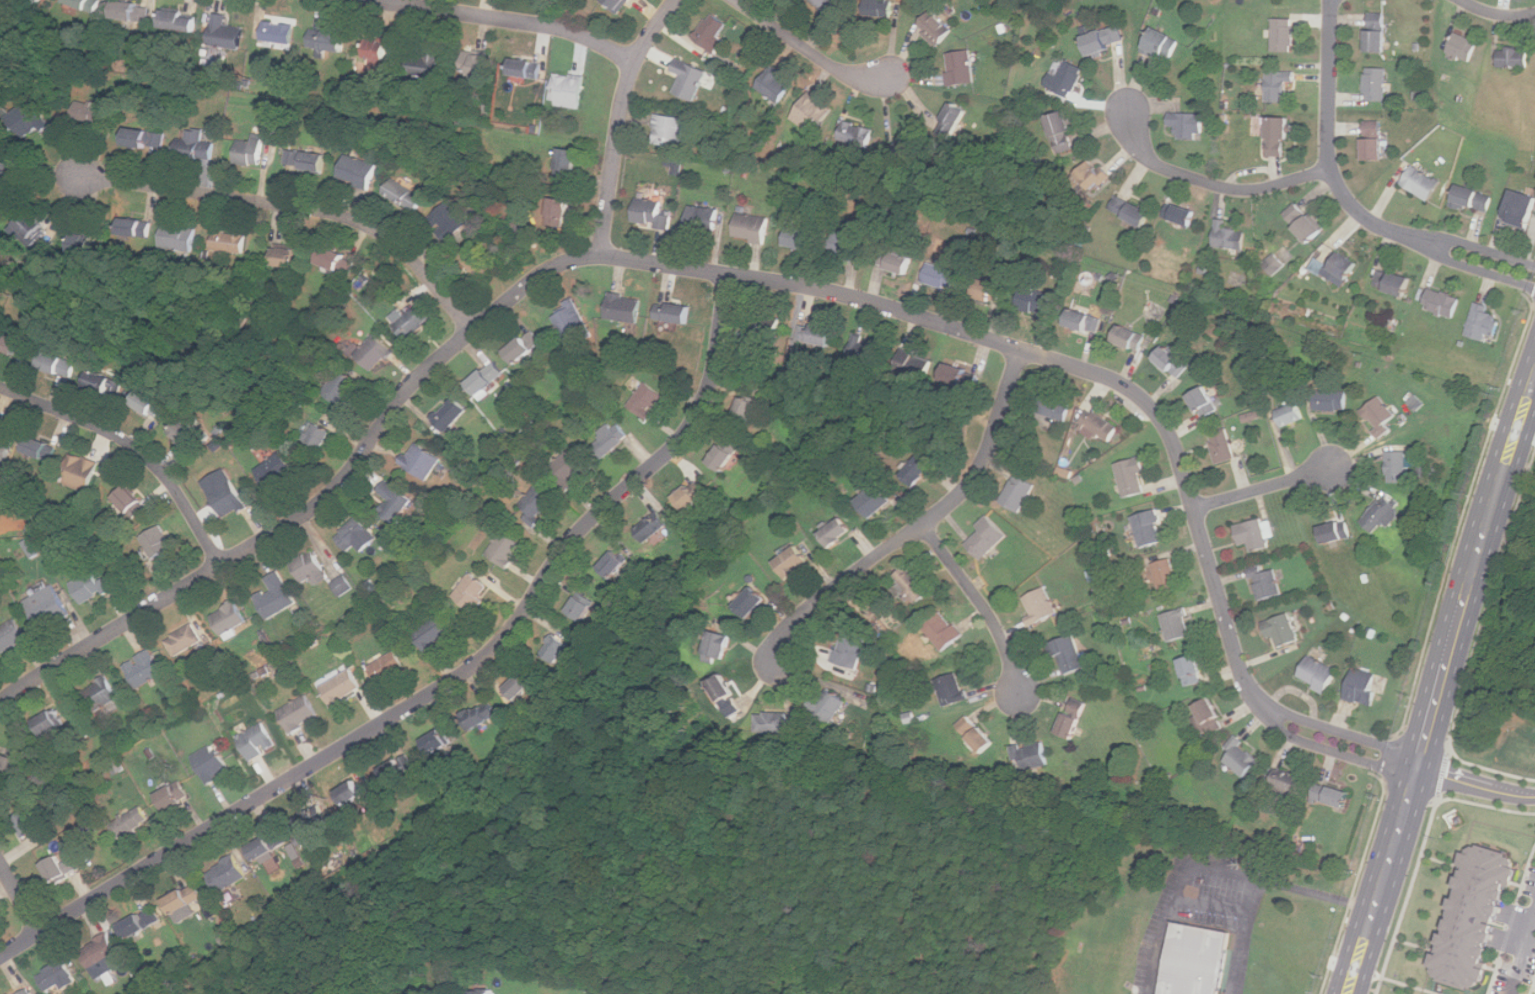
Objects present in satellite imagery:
building: (40, 0)
building: (617, 4)
building: (89, 5)
building: (831, 7)
building: (880, 9)
building: (133, 12)
road: (1496, 14)
road: (507, 19)
building: (180, 22)
building: (938, 28)
building: (712, 31)
building: (279, 32)
building: (227, 33)
building: (1379, 35)
building: (1284, 36)
building: (327, 41)
building: (1106, 41)
building: (1163, 45)
building: (1464, 48)
road: (807, 50)
building: (1515, 58)
building: (378, 62)
building: (425, 64)
building: (477, 64)
building: (524, 69)
building: (961, 69)
building: (1067, 79)
building: (690, 80)
building: (1278, 85)
building: (1377, 85)
building: (776, 86)
building: (572, 92)
building: (814, 113)
building: (94, 114)
road: (617, 120)
building: (30, 121)
building: (954, 121)
building: (1189, 125)
building: (670, 131)
building: (1063, 132)
building: (858, 134)
building: (1281, 137)
building: (147, 139)
building: (1376, 141)
building: (196, 146)
building: (908, 150)
building: (250, 151)
building: (306, 161)
building: (675, 165)
building: (568, 166)
building: (359, 171)
building: (1095, 175)
building: (10, 179)
building: (1423, 183)
road: (1211, 184)
building: (405, 195)
road: (1348, 199)
building: (1474, 199)
road: (298, 207)
building: (1521, 210)
building: (560, 212)
building: (1133, 212)
building: (652, 213)
building: (1181, 215)
building: (703, 221)
building: (449, 222)
building: (1305, 223)
building: (28, 228)
building: (752, 228)
building: (138, 229)
building: (180, 237)
building: (1229, 237)
building: (800, 238)
building: (232, 241)
building: (84, 243)
building: (850, 245)
building: (286, 257)
building: (895, 260)
building: (338, 261)
building: (477, 261)
building: (1275, 264)
building: (1338, 268)
building: (943, 276)
road: (749, 277)
building: (1395, 282)
building: (990, 291)
building: (1035, 303)
building: (1443, 303)
building: (624, 308)
building: (676, 313)
building: (572, 320)
building: (414, 322)
building: (1085, 322)
building: (1484, 322)
building: (769, 335)
building: (819, 335)
building: (1126, 336)
building: (13, 345)
building: (525, 347)
building: (866, 350)
building: (374, 353)
building: (1172, 363)
building: (60, 364)
building: (912, 365)
building: (961, 377)
building: (487, 378)
building: (105, 384)
building: (343, 387)
building: (648, 401)
building: (1332, 401)
building: (1206, 402)
building: (149, 404)
building: (1054, 407)
building: (748, 410)
building: (451, 414)
building: (1292, 415)
building: (1381, 415)
building: (1101, 425)
building: (1, 427)
building: (186, 433)
building: (316, 440)
building: (611, 440)
road: (133, 447)
building: (1223, 447)
building: (5, 448)
building: (41, 449)
building: (726, 456)
building: (422, 461)
building: (1398, 467)
building: (570, 469)
building: (276, 470)
building: (918, 471)
building: (82, 473)
building: (1133, 477)
road: (1261, 487)
building: (226, 492)
building: (1019, 493)
building: (693, 496)
building: (875, 501)
building: (131, 502)
building: (395, 502)
building: (538, 505)
building: (1382, 515)
road: (922, 522)
building: (653, 526)
building: (1150, 528)
building: (836, 532)
building: (1337, 533)
building: (1257, 534)
building: (356, 535)
building: (988, 537)
building: (158, 543)
building: (506, 550)
building: (793, 562)
building: (614, 564)
building: (310, 568)
building: (1167, 575)
building: (1266, 583)
building: (342, 585)
building: (912, 585)
building: (91, 587)
building: (474, 593)
building: (277, 596)
road: (1489, 601)
building: (750, 602)
road: (979, 603)
building: (47, 605)
building: (1041, 606)
building: (582, 608)
building: (230, 618)
building: (1178, 625)
building: (434, 631)
building: (944, 631)
building: (1283, 631)
building: (11, 636)
building: (185, 640)
building: (717, 646)
building: (556, 648)
building: (850, 649)
building: (1069, 654)
building: (388, 667)
building: (145, 669)
building: (1188, 669)
building: (1319, 674)
building: (523, 684)
road: (442, 685)
road: (1437, 685)
building: (724, 687)
building: (1365, 687)
building: (343, 688)
building: (952, 689)
building: (102, 695)
building: (827, 706)
building: (299, 714)
building: (482, 715)
building: (1205, 716)
building: (1069, 717)
building: (771, 723)
building: (49, 724)
building: (977, 733)
building: (258, 741)
building: (438, 742)
building: (1031, 757)
building: (1242, 758)
building: (213, 764)
building: (15, 765)
building: (399, 768)
road: (1442, 775)
building: (1288, 781)
road: (1474, 786)
building: (352, 792)
building: (1333, 795)
building: (175, 796)
building: (314, 818)
building: (131, 821)
building: (30, 822)
building: (270, 846)
road: (1214, 869)
building: (58, 870)
building: (229, 874)
road: (1406, 895)
road: (19, 899)
building: (186, 899)
road: (1228, 910)
building: (1468, 914)
building: (0, 923)
building: (142, 923)
road: (1521, 950)
building: (101, 951)
road: (1242, 954)
building: (1196, 960)
building: (59, 975)
building: (24, 991)
building: (484, 992)

